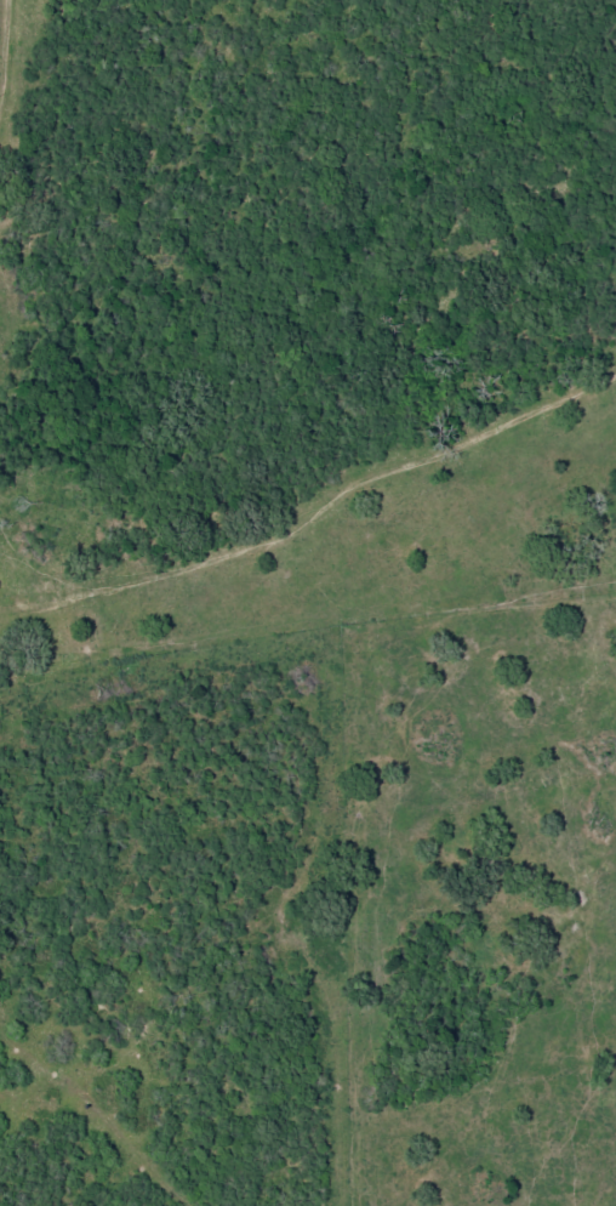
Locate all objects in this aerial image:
road: (320, 505)

